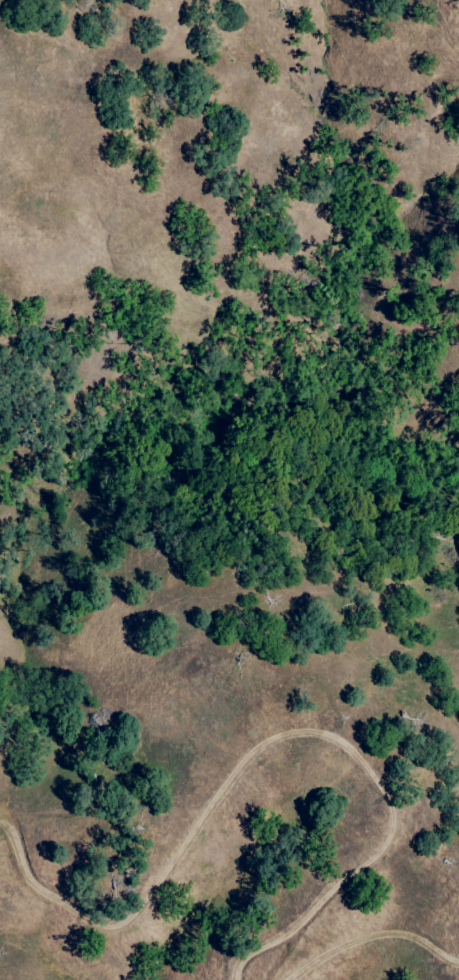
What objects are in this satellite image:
road: (263, 738)
road: (373, 940)

